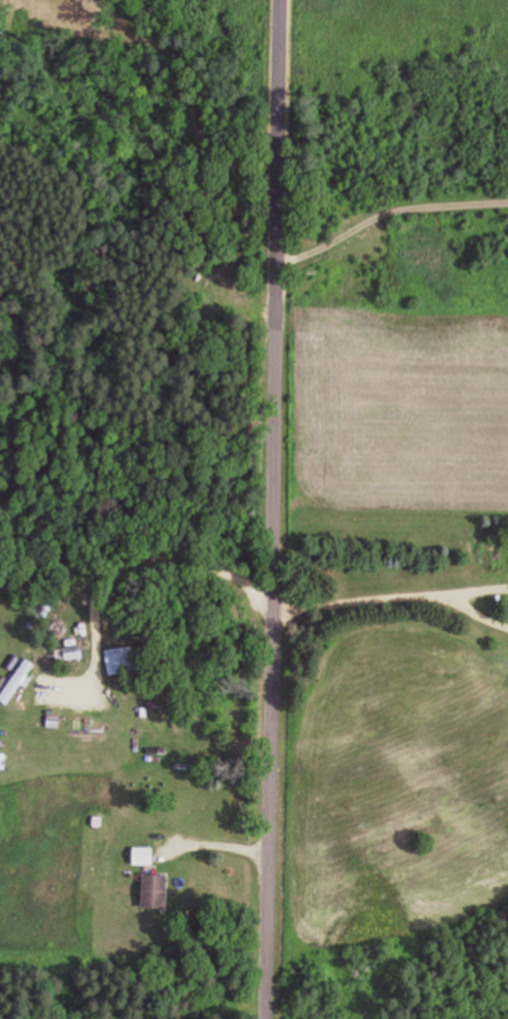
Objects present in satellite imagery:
road: (388, 210)
road: (276, 509)
crop: (389, 620)
building: (120, 662)
building: (16, 682)
building: (2, 761)
building: (142, 856)
building: (155, 892)

